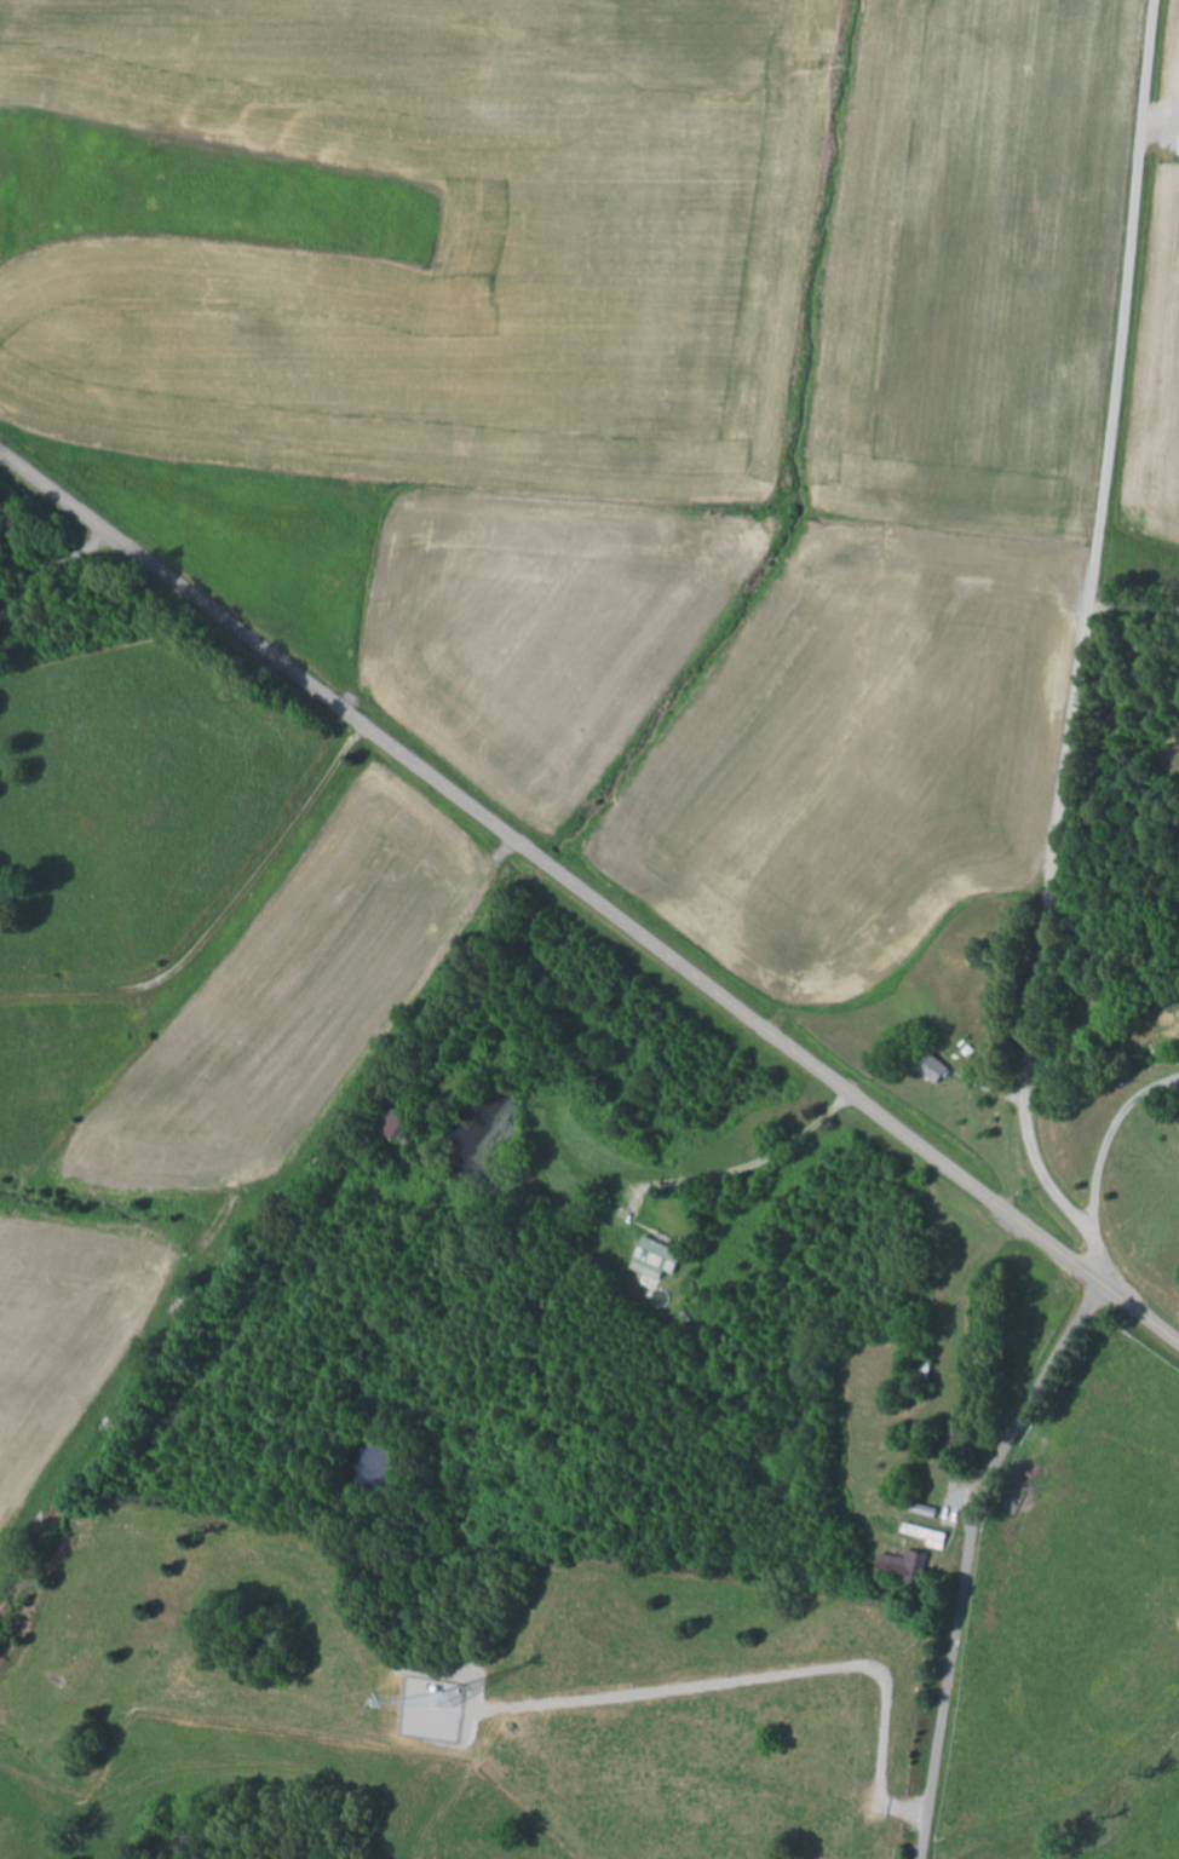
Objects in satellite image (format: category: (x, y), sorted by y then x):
road: (50, 568)
road: (1081, 650)
road: (588, 896)
building: (938, 1067)
building: (401, 1126)
road: (747, 1168)
building: (660, 1259)
road: (967, 1554)
building: (913, 1564)

